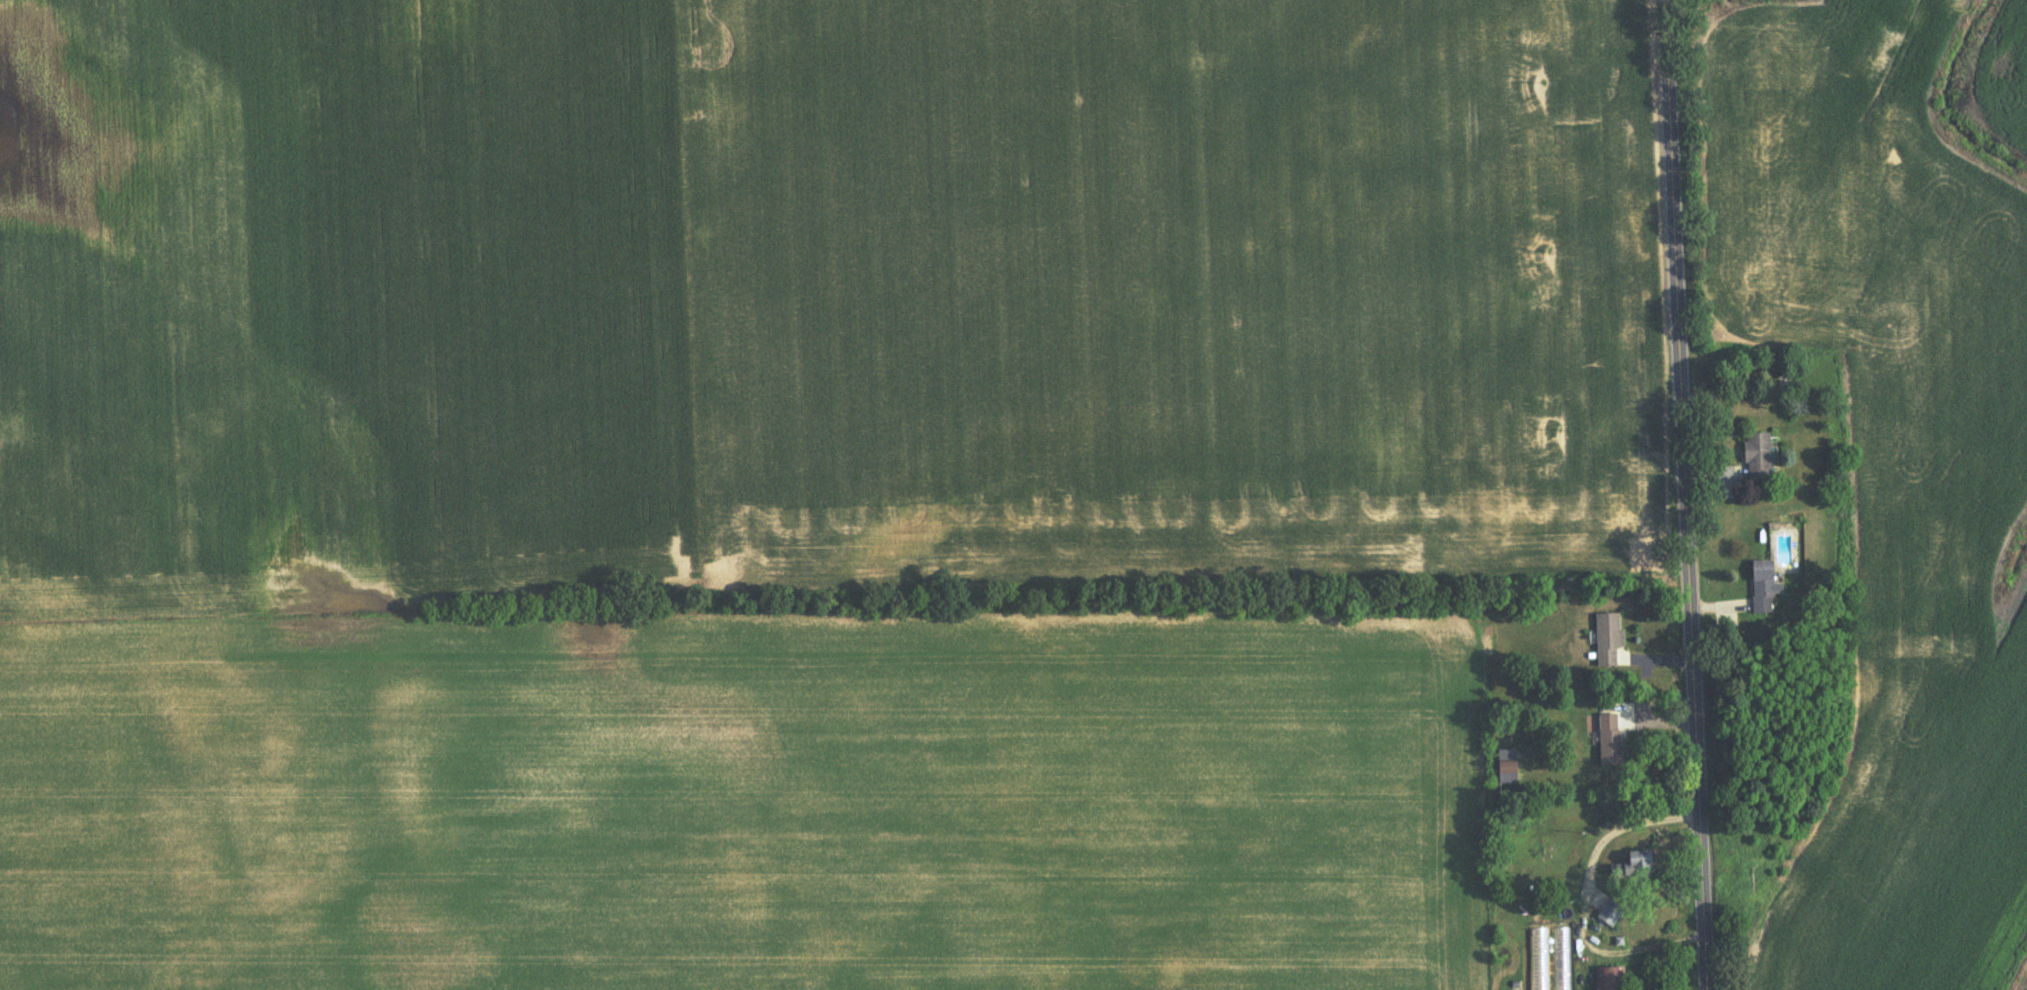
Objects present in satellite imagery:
building: (1786, 381)
building: (1762, 457)
road: (1691, 494)
building: (1766, 588)
building: (1610, 640)
building: (1612, 741)
building: (1637, 868)
road: (1583, 903)
building: (1614, 913)
building: (1613, 979)

